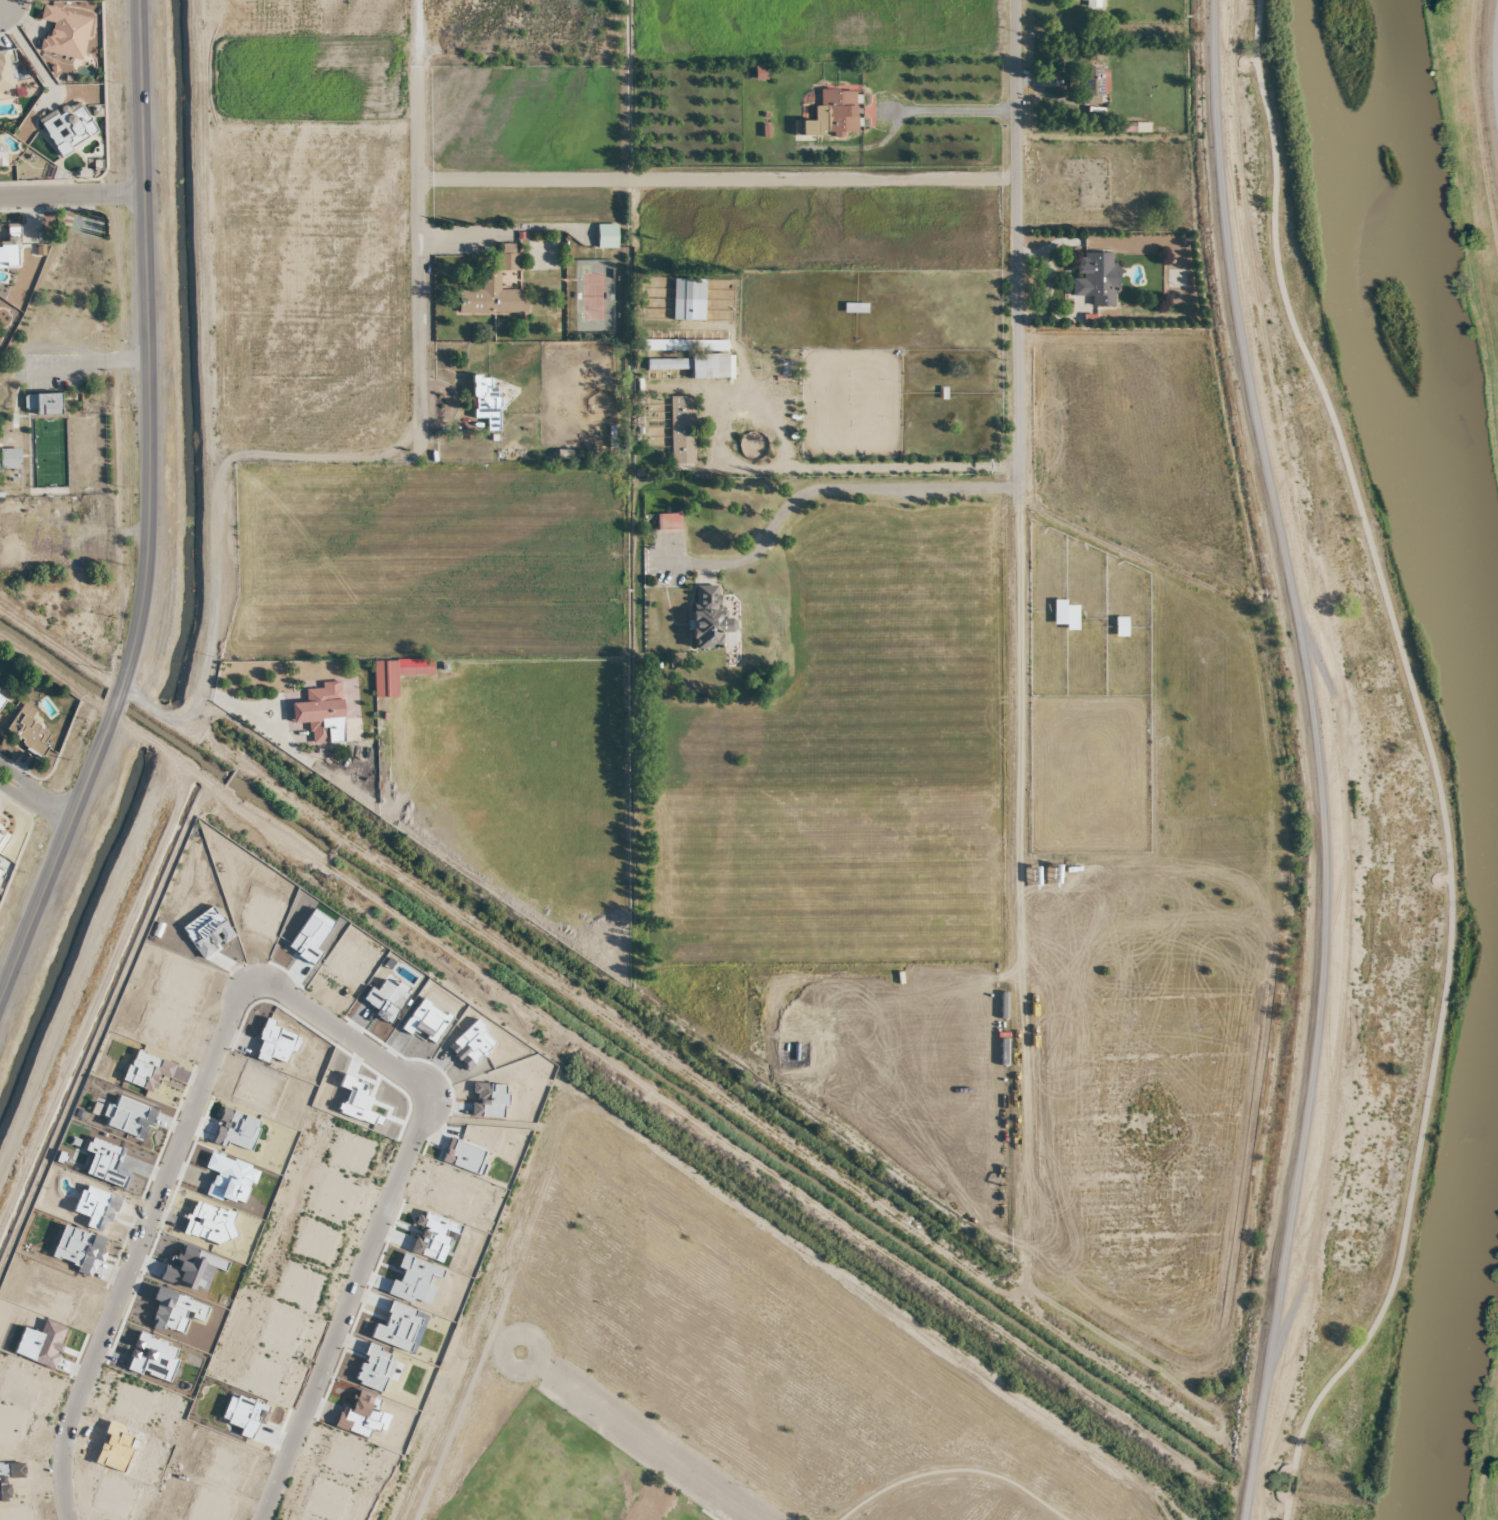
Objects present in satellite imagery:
building: (1093, 3)
building: (64, 33)
road: (1497, 47)
building: (3, 71)
building: (1090, 86)
road: (950, 111)
building: (831, 114)
building: (67, 127)
building: (2, 155)
road: (714, 176)
road: (69, 195)
road: (411, 220)
building: (606, 237)
building: (8, 254)
building: (1095, 279)
building: (494, 289)
building: (854, 308)
building: (684, 345)
road: (87, 365)
building: (694, 366)
river: (1427, 396)
building: (484, 402)
building: (41, 404)
building: (681, 430)
building: (9, 459)
road: (797, 466)
road: (828, 486)
road: (146, 509)
building: (667, 522)
building: (1064, 616)
building: (708, 621)
road: (1023, 624)
building: (1119, 628)
building: (1, 701)
building: (321, 712)
building: (27, 734)
road: (1425, 739)
road: (1315, 758)
road: (33, 797)
building: (3, 839)
road: (283, 1005)
river: (1460, 1266)
park: (733, 1364)
road: (640, 1436)
road: (1290, 1483)
road: (1286, 1507)
road: (1279, 1518)

